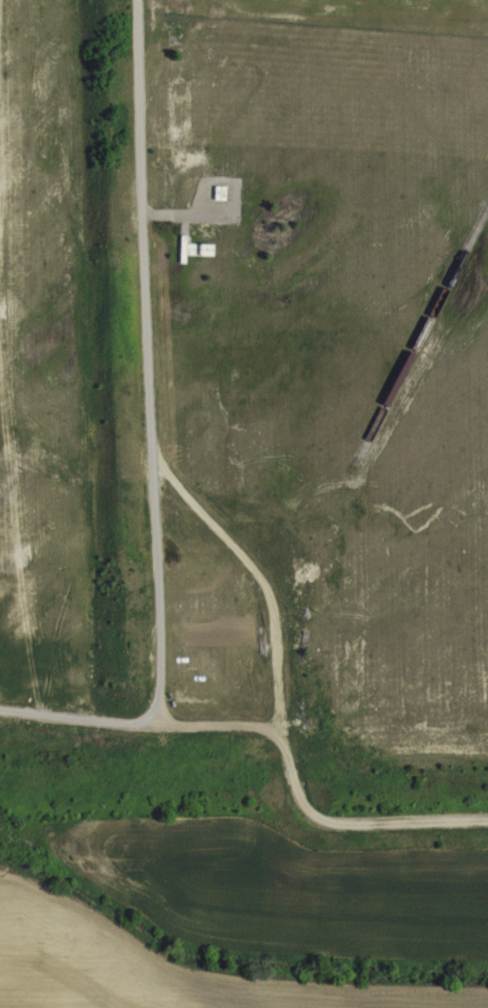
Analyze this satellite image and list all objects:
building: (202, 260)
railway: (419, 335)
road: (194, 511)

